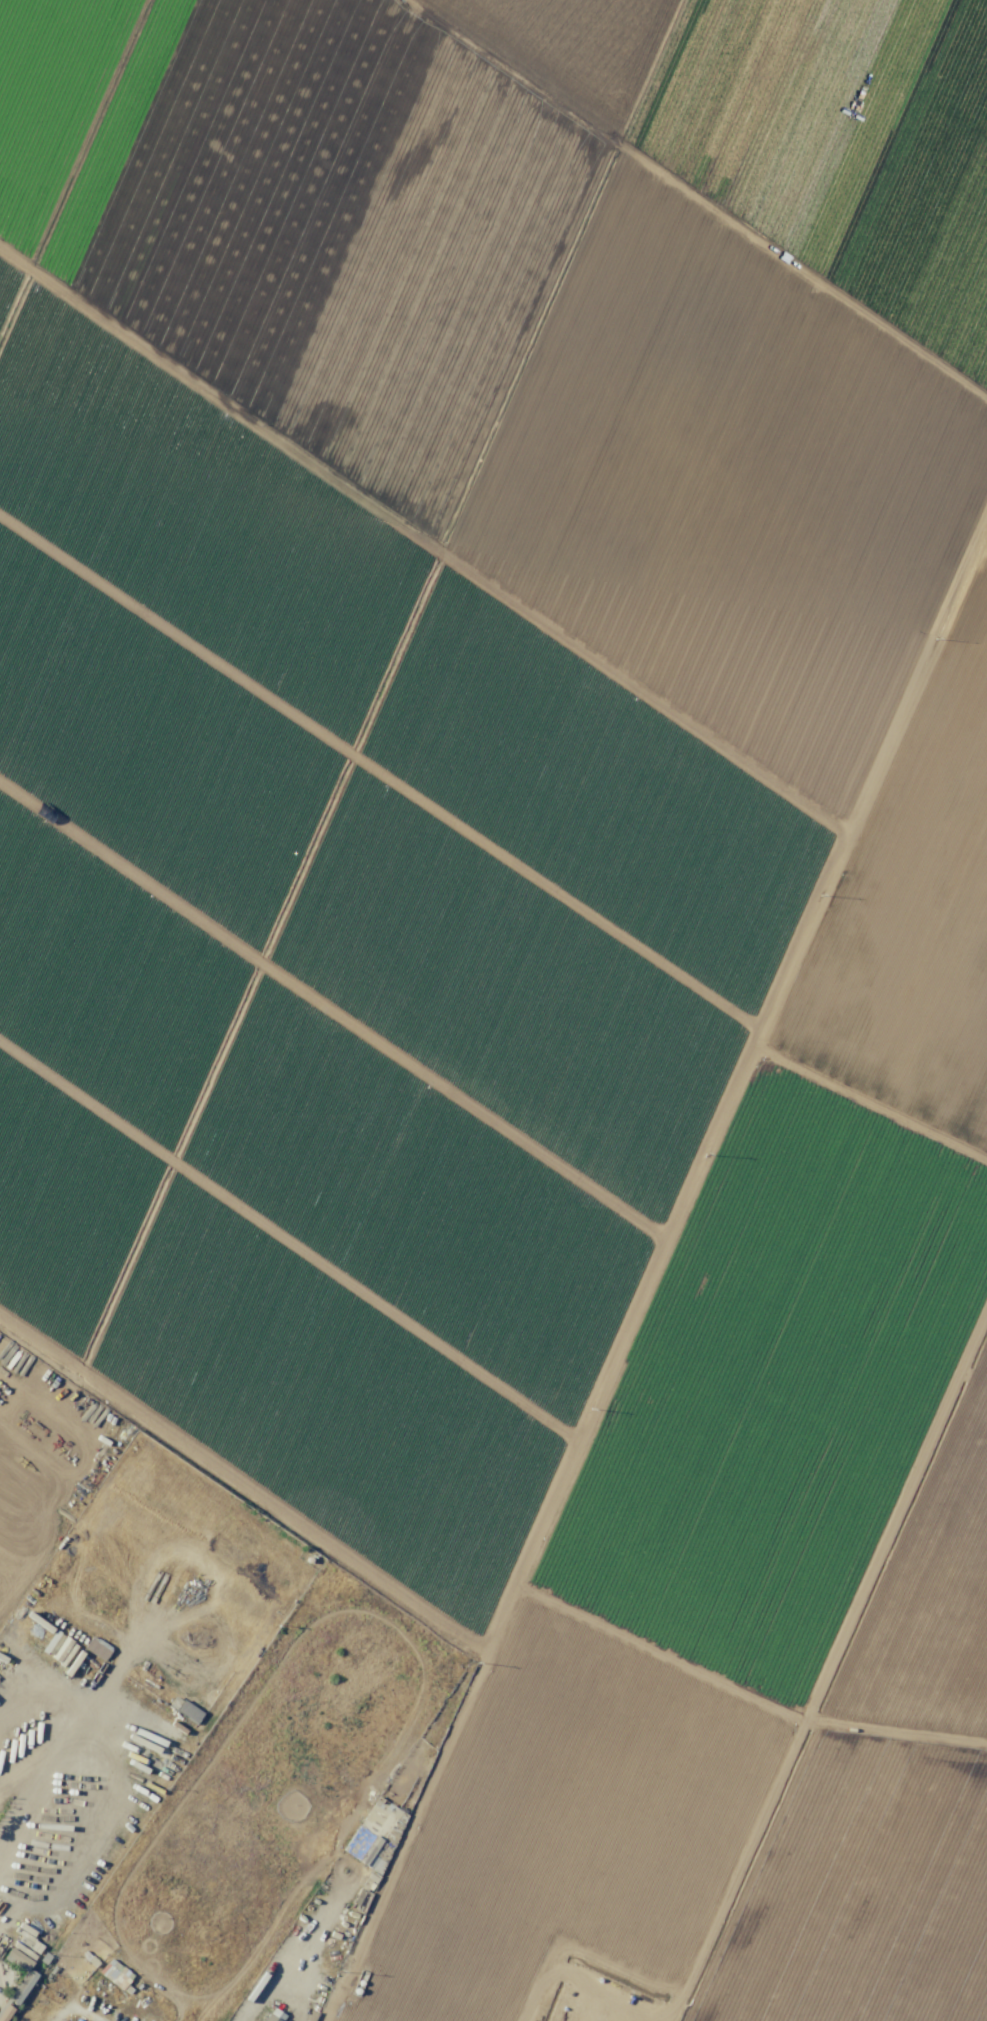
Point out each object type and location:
crop: (525, 921)
building: (56, 1645)
building: (96, 1648)
building: (184, 1709)
building: (375, 1831)
building: (375, 1864)
building: (115, 1973)
building: (21, 1986)
road: (274, 1987)

